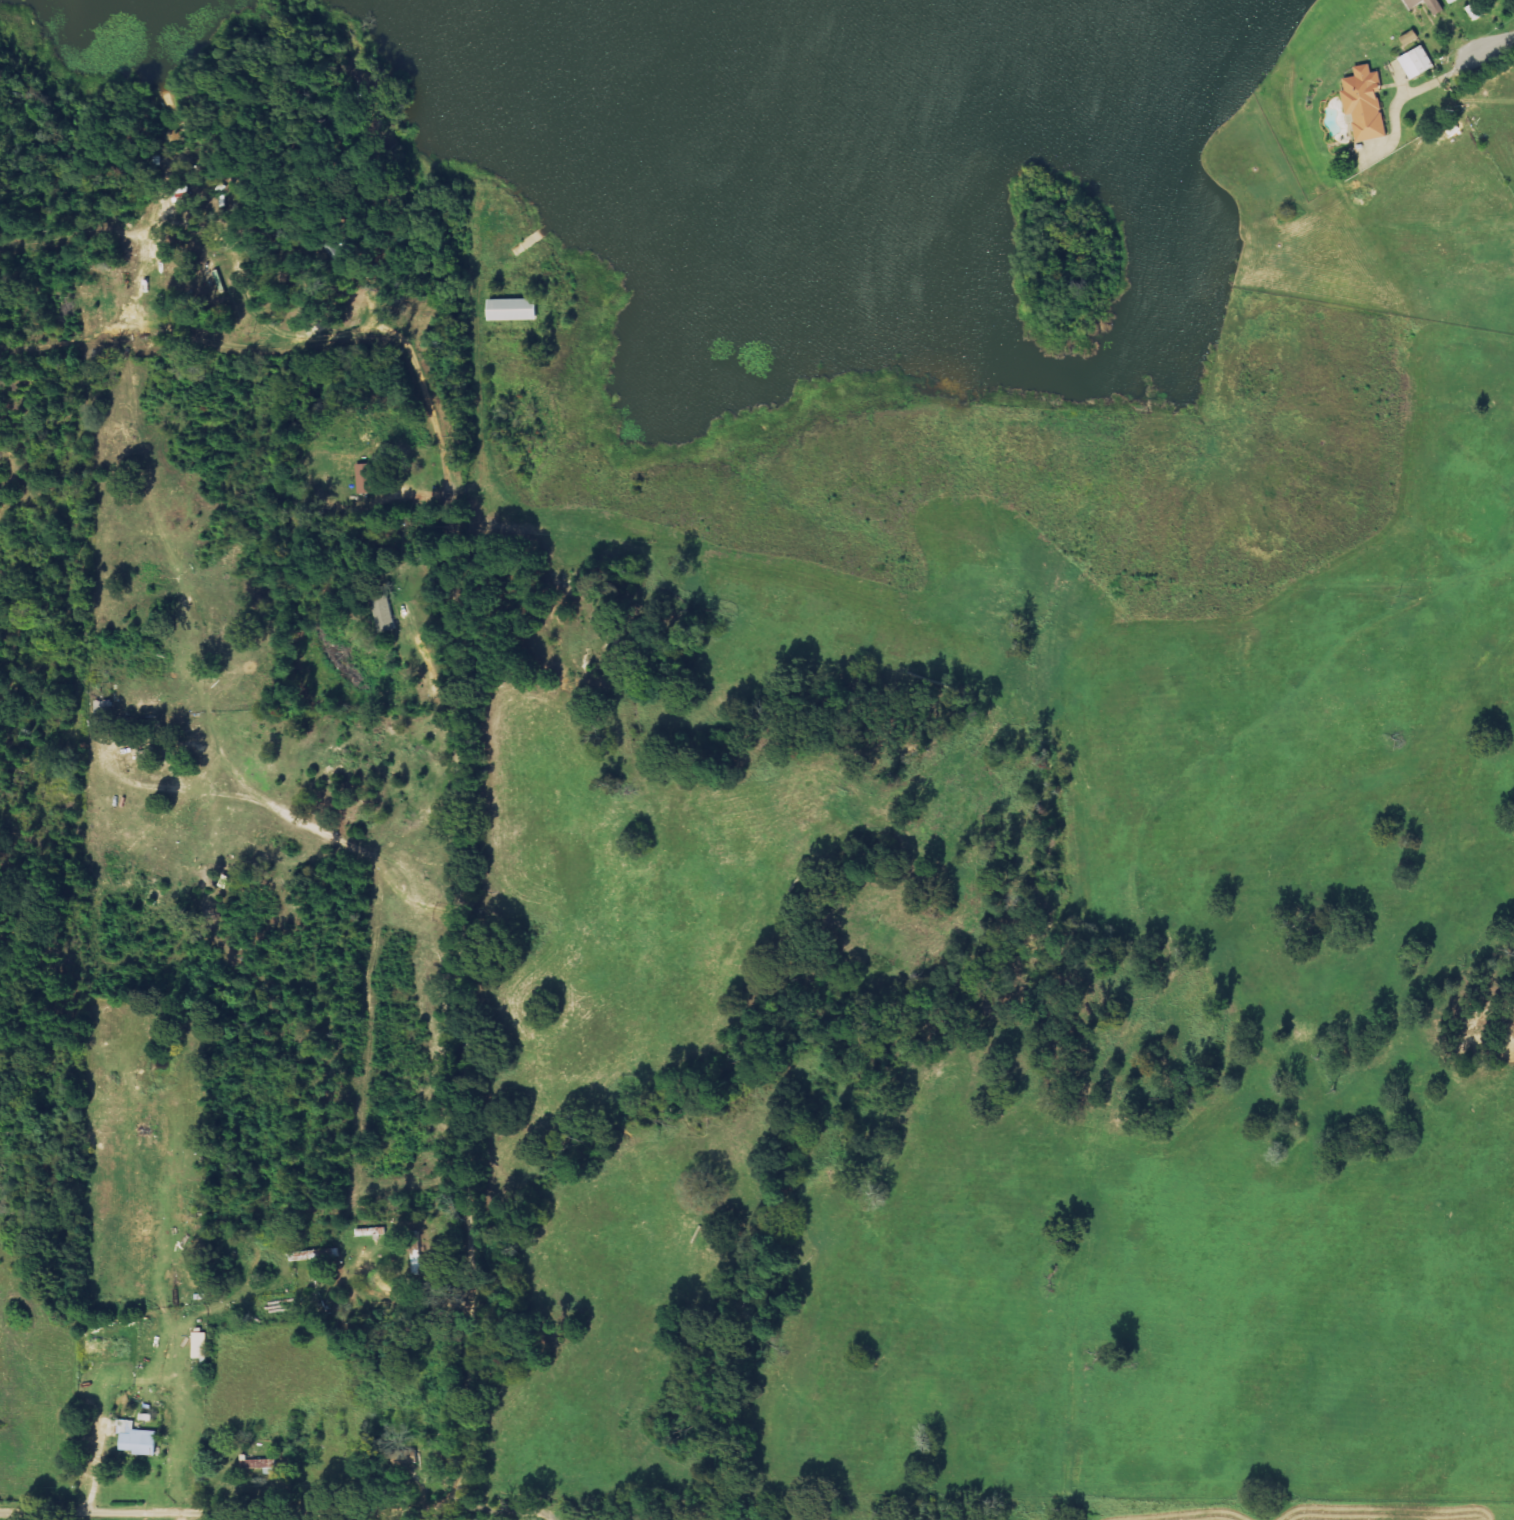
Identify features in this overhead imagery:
building: (1454, 1)
building: (1436, 6)
building: (1410, 39)
road: (1492, 44)
building: (1418, 63)
building: (1367, 104)
building: (514, 310)
road: (424, 396)
building: (384, 615)
building: (373, 1232)
road: (470, 1301)
building: (201, 1346)
building: (108, 1349)
building: (137, 1440)
building: (262, 1468)

